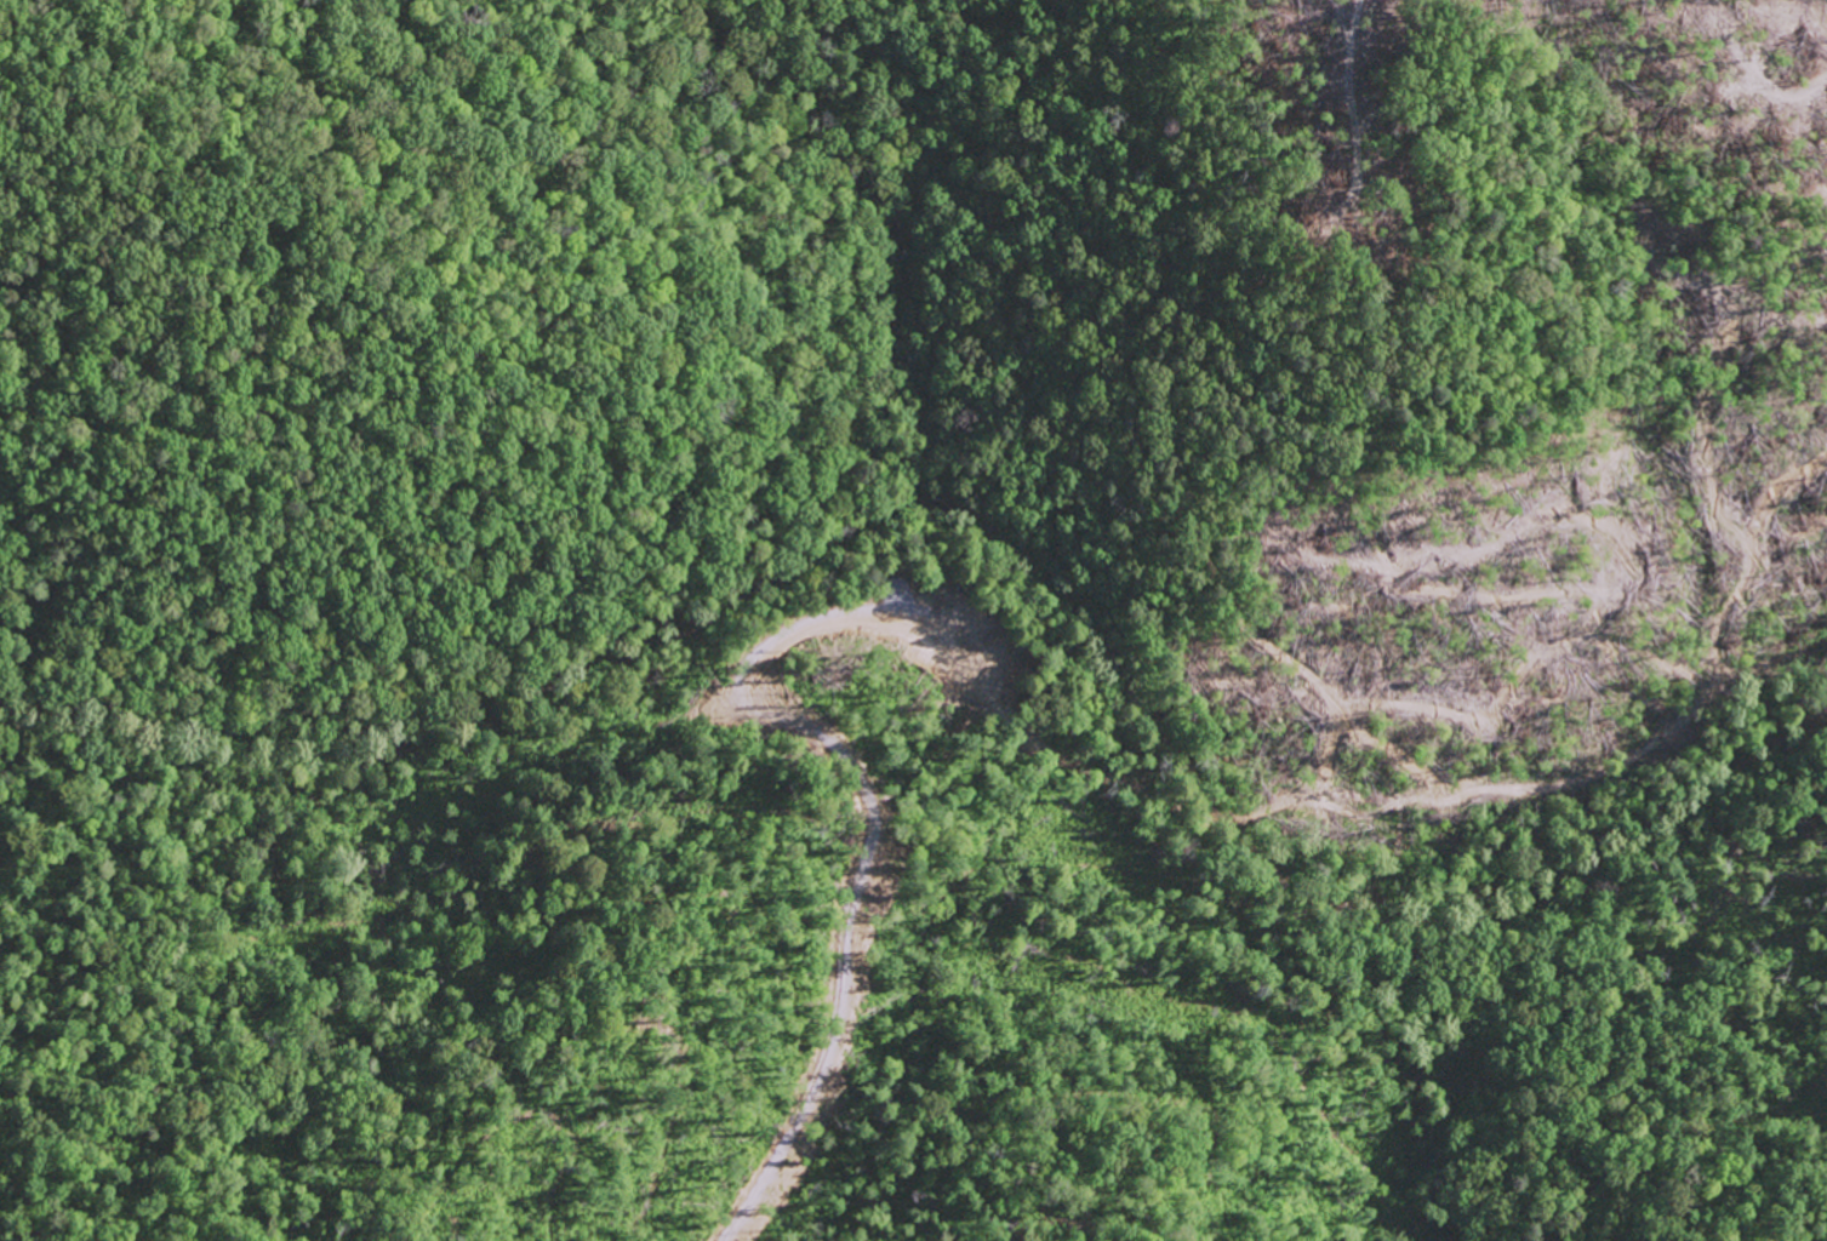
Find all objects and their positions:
road: (844, 982)

